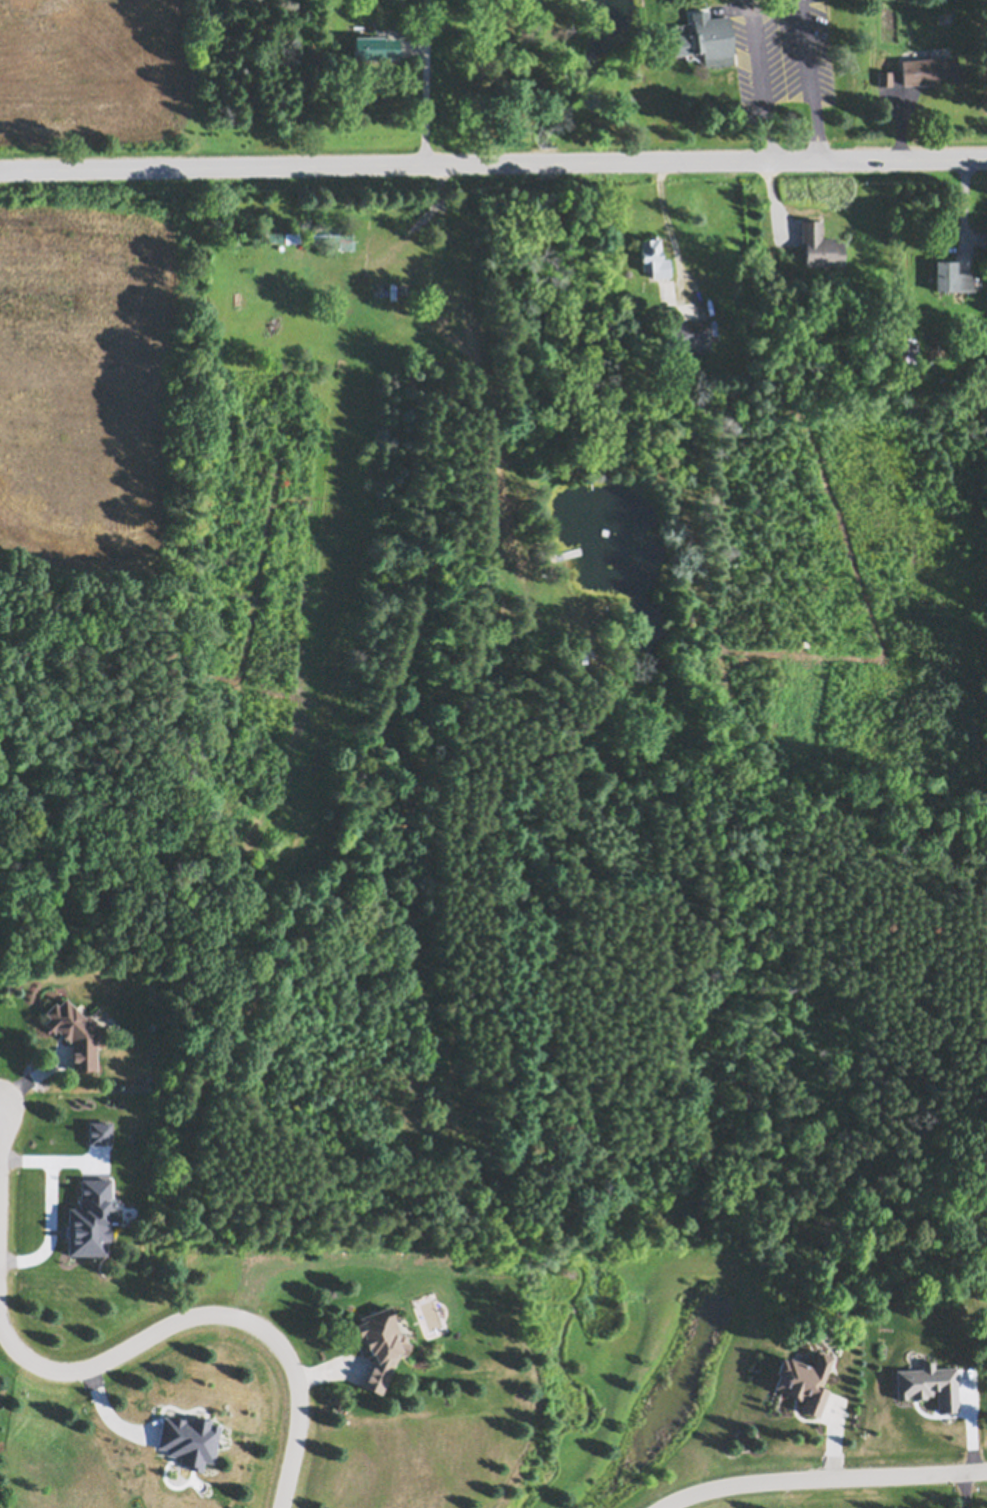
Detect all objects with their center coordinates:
building: (706, 36)
building: (375, 41)
road: (777, 50)
building: (929, 67)
building: (885, 76)
road: (424, 80)
road: (788, 84)
road: (493, 161)
road: (666, 227)
building: (332, 232)
building: (297, 235)
building: (819, 242)
building: (653, 254)
building: (951, 274)
building: (691, 334)
building: (904, 347)
building: (76, 1031)
road: (53, 1157)
road: (49, 1225)
road: (210, 1315)
building: (381, 1344)
building: (805, 1380)
road: (820, 1480)
road: (962, 1491)

